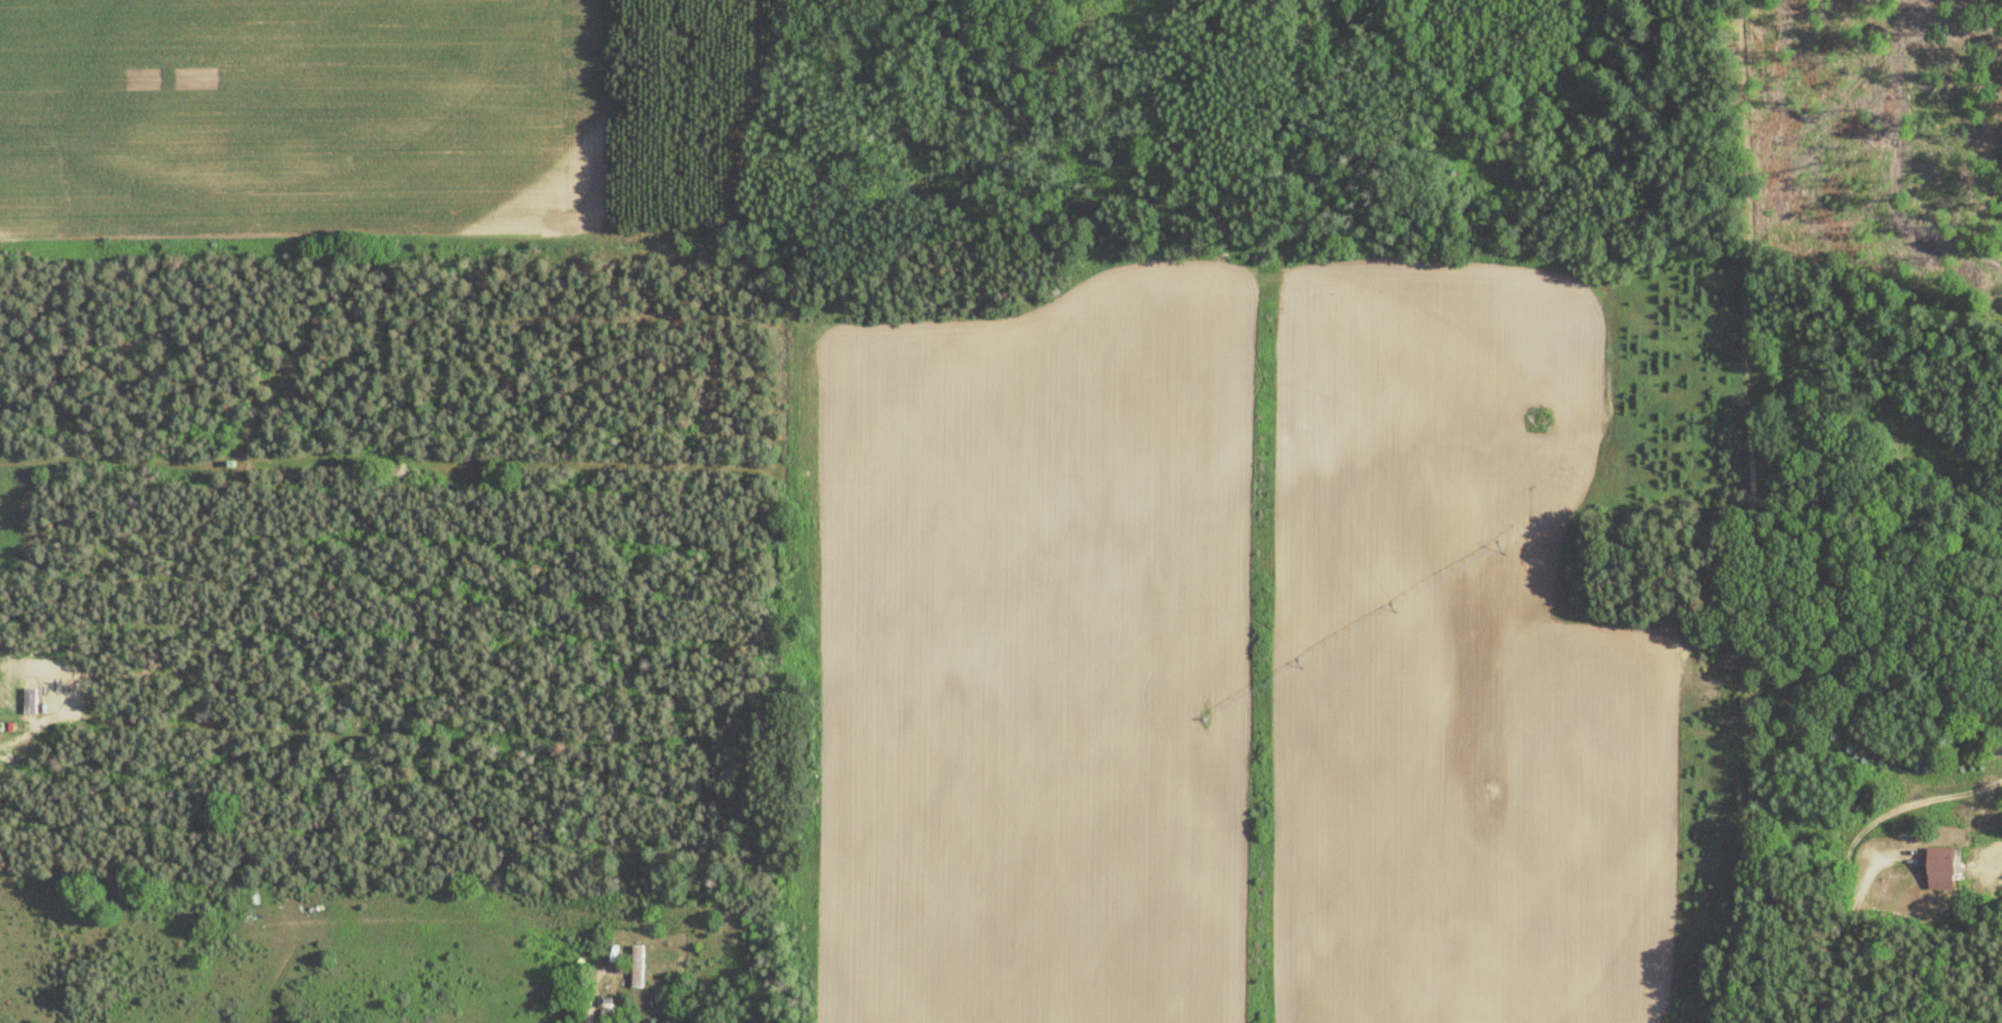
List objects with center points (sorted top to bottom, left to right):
road: (1750, 511)
building: (1941, 868)
road: (1842, 920)
building: (635, 972)
road: (597, 1000)

